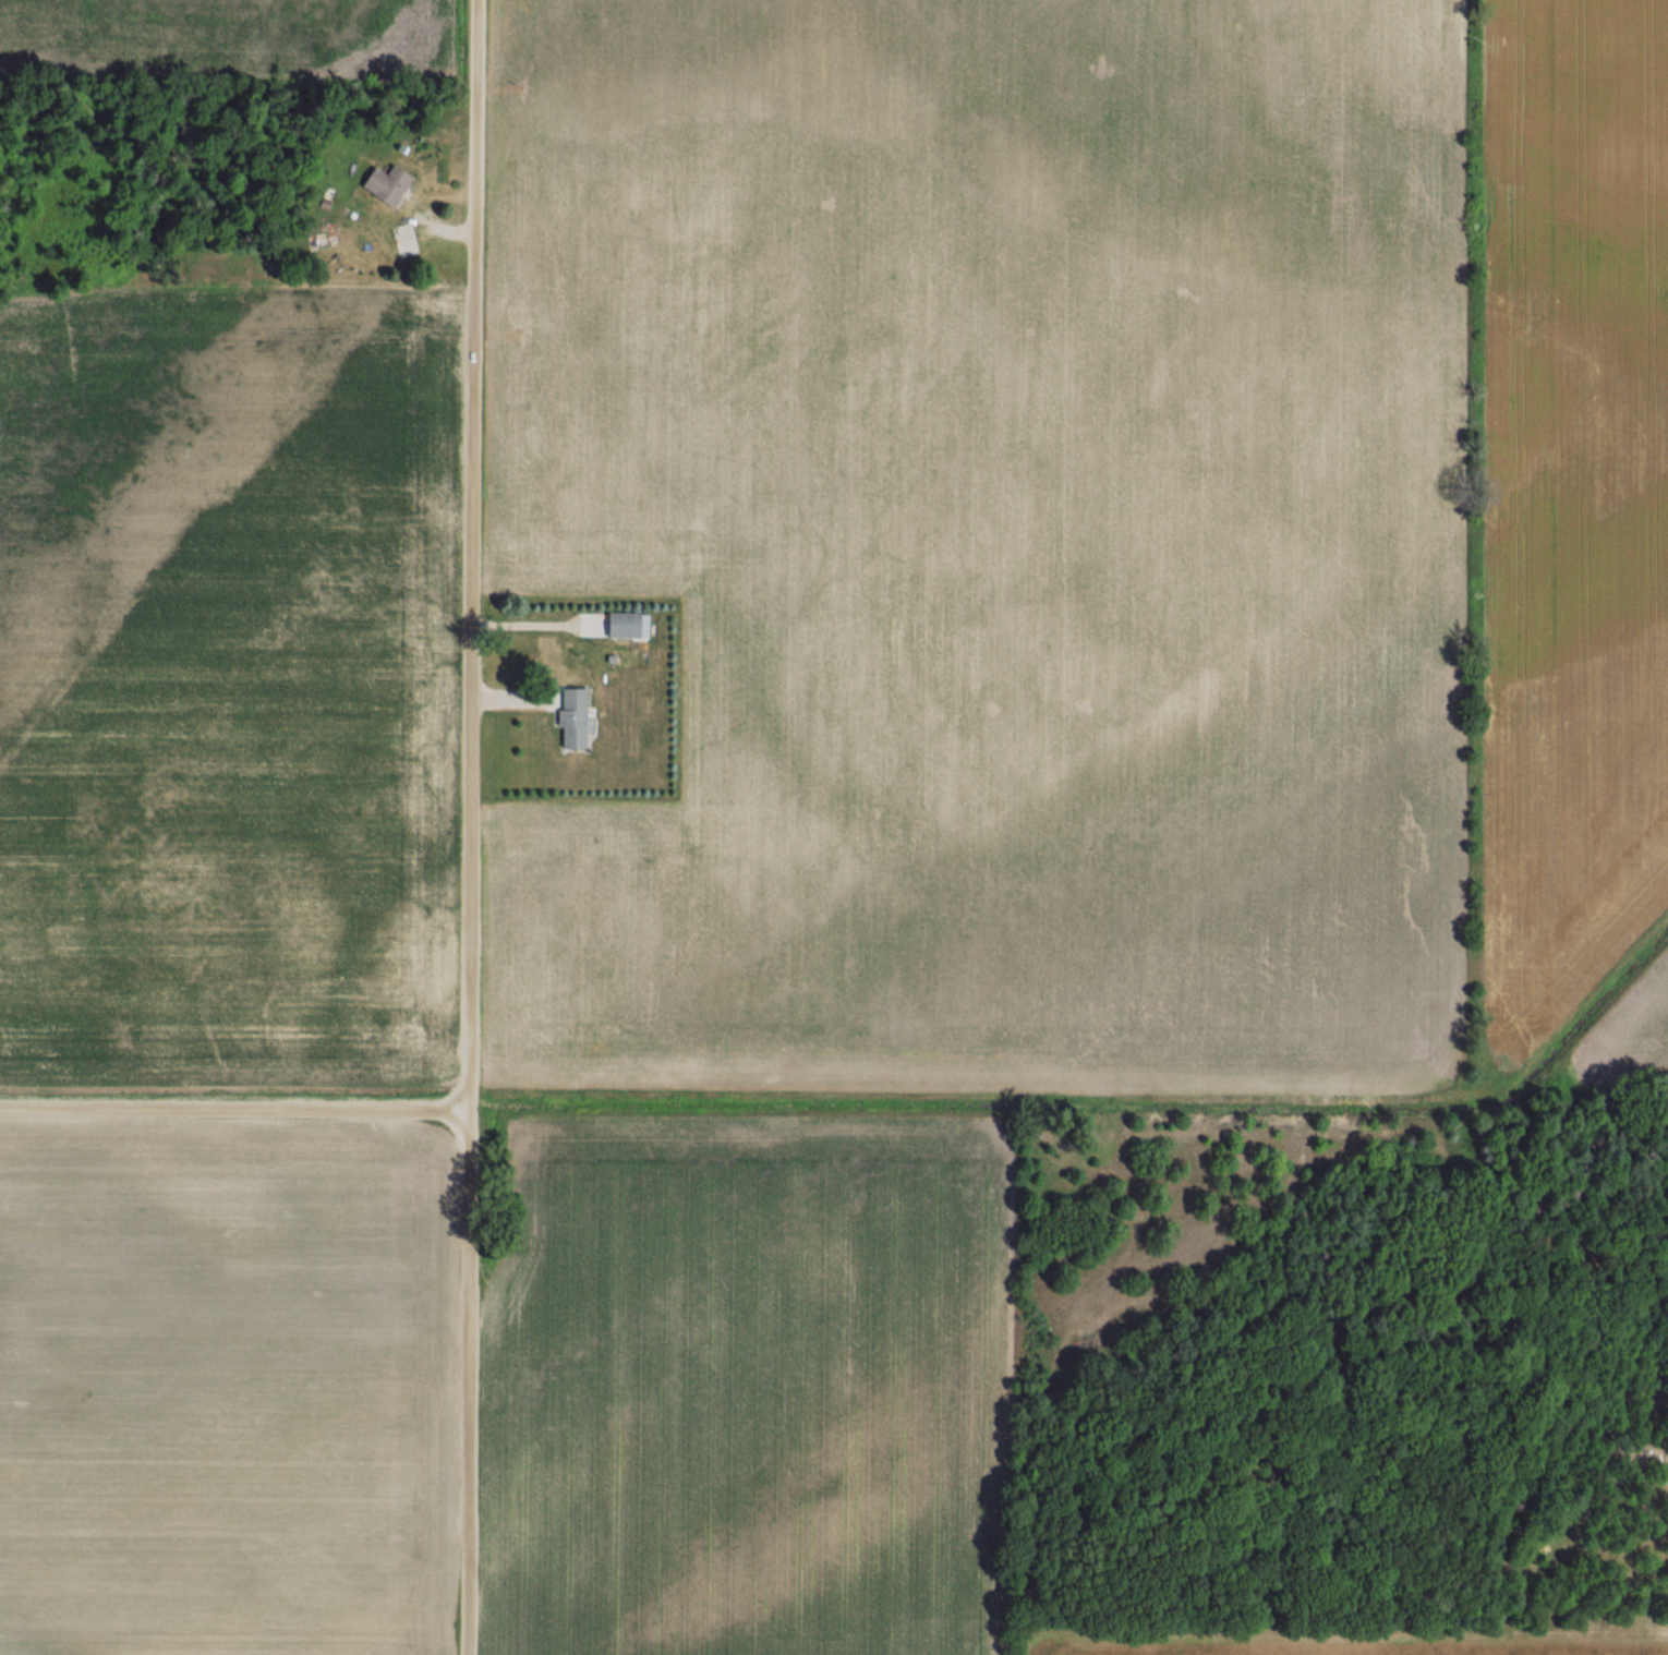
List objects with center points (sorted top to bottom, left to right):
building: (386, 183)
building: (621, 625)
building: (570, 717)
road: (470, 826)
road: (234, 1107)

